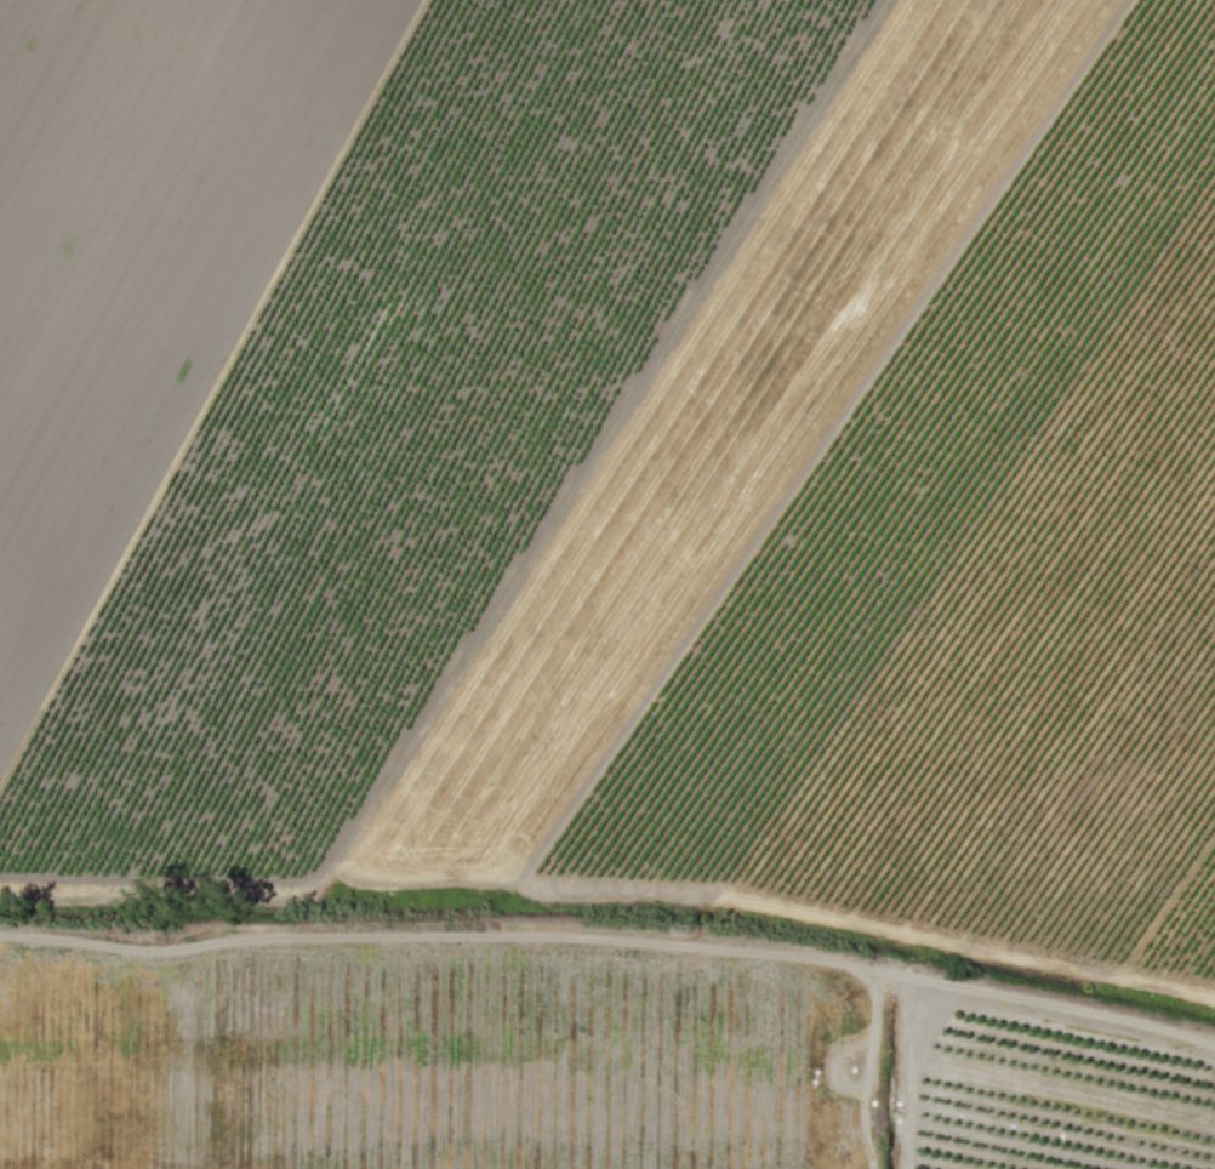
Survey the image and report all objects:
power tower: (692, 935)
power tower: (159, 939)
road: (611, 954)

